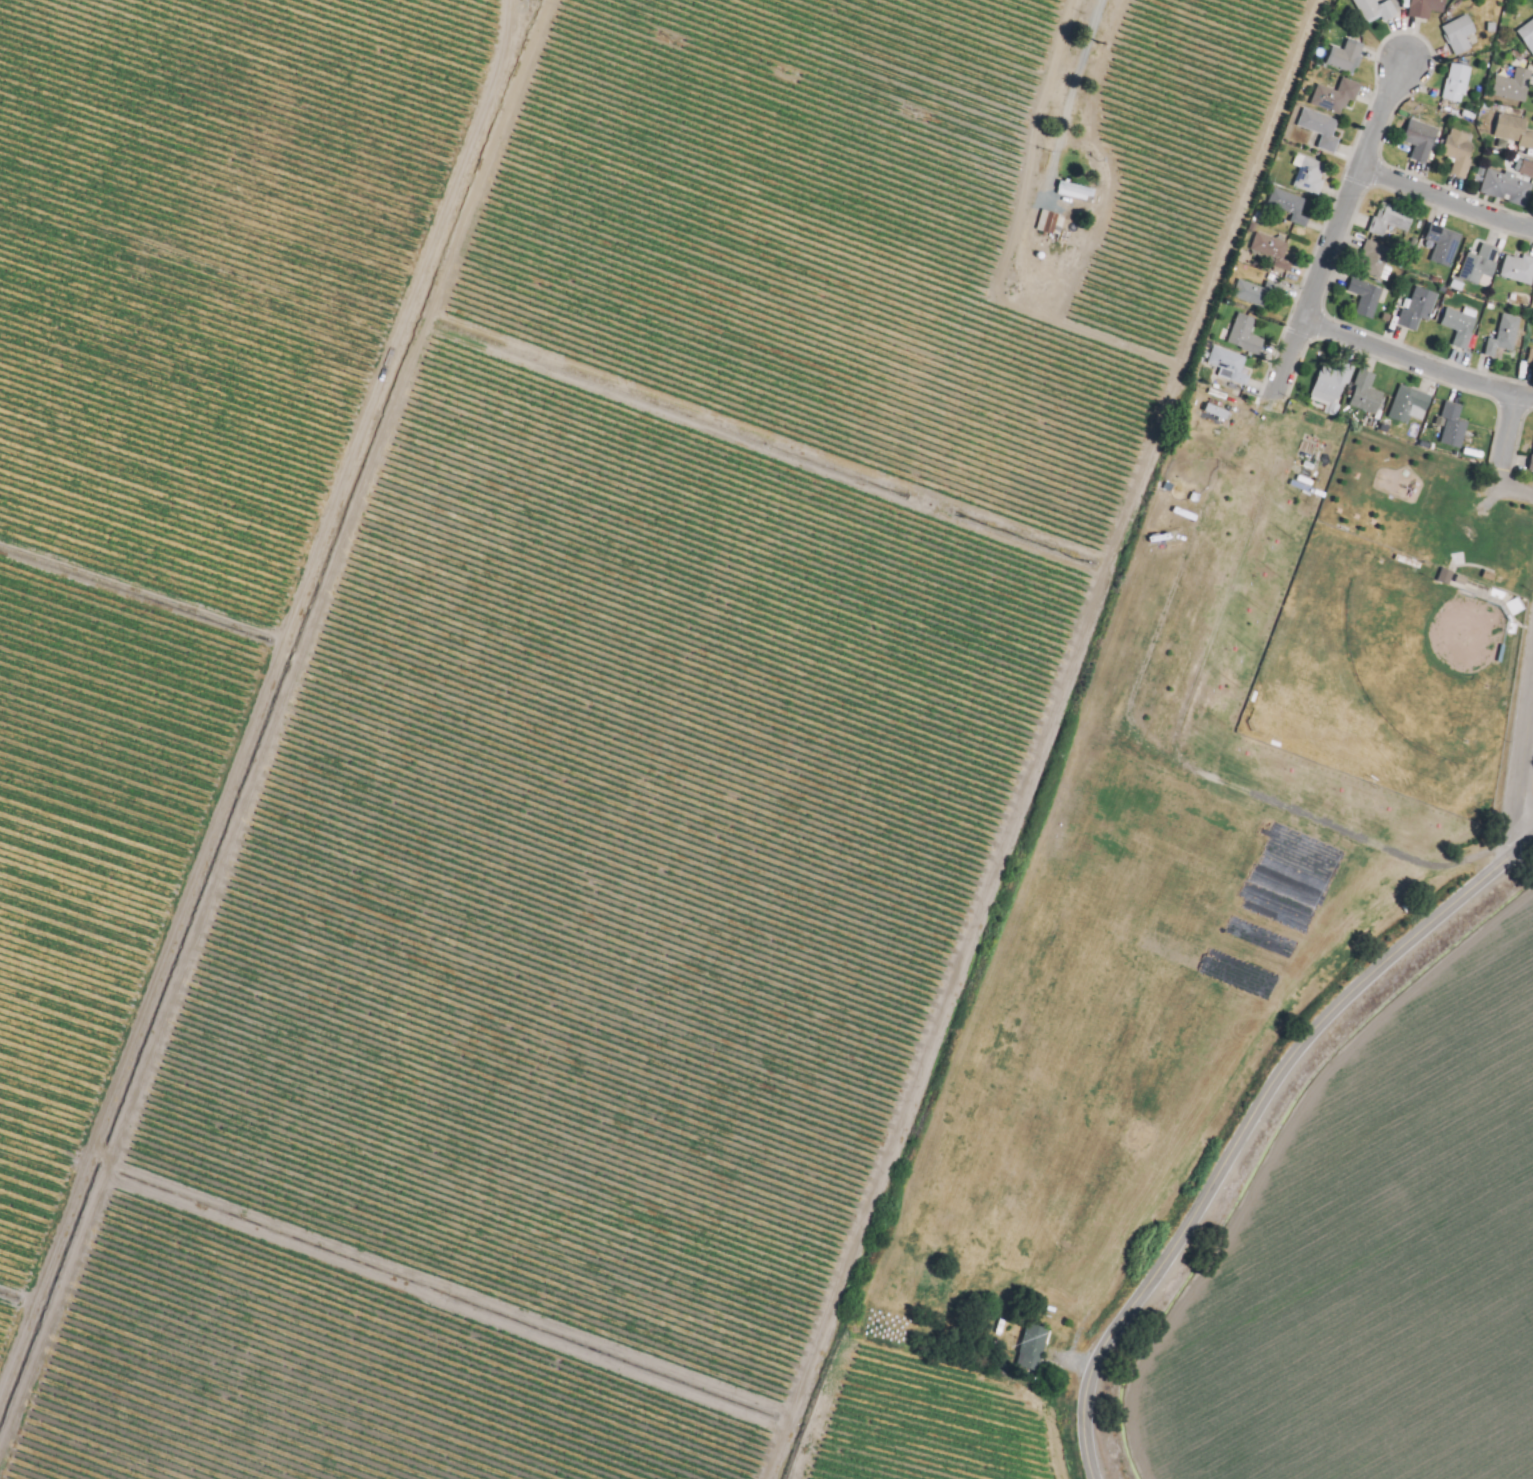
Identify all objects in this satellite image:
building: (1429, 8)
building: (1380, 9)
building: (1528, 33)
building: (1463, 34)
building: (1349, 56)
building: (1461, 83)
building: (1516, 85)
building: (1339, 95)
road: (1076, 100)
building: (1323, 127)
building: (1516, 129)
building: (1423, 140)
building: (1463, 150)
building: (1523, 168)
building: (1314, 174)
building: (1509, 188)
building: (1074, 192)
road: (1448, 198)
building: (1288, 204)
building: (1048, 222)
building: (1394, 223)
road: (1339, 231)
building: (1446, 244)
building: (1275, 250)
building: (1376, 260)
building: (1482, 264)
building: (1520, 269)
building: (1257, 295)
building: (1368, 296)
building: (1420, 309)
building: (1462, 327)
building: (1248, 335)
building: (1507, 337)
building: (1532, 358)
road: (1417, 362)
building: (1232, 366)
building: (1335, 384)
building: (1368, 394)
building: (1410, 404)
building: (1456, 425)
road: (1508, 438)
building: (1532, 469)
road: (1515, 488)
building: (1443, 577)
park: (1402, 622)
road: (1528, 722)
crop: (705, 772)
road: (1516, 805)
road: (1521, 847)
park: (1136, 938)
road: (1239, 1133)
road: (1278, 1158)
building: (1036, 1349)

